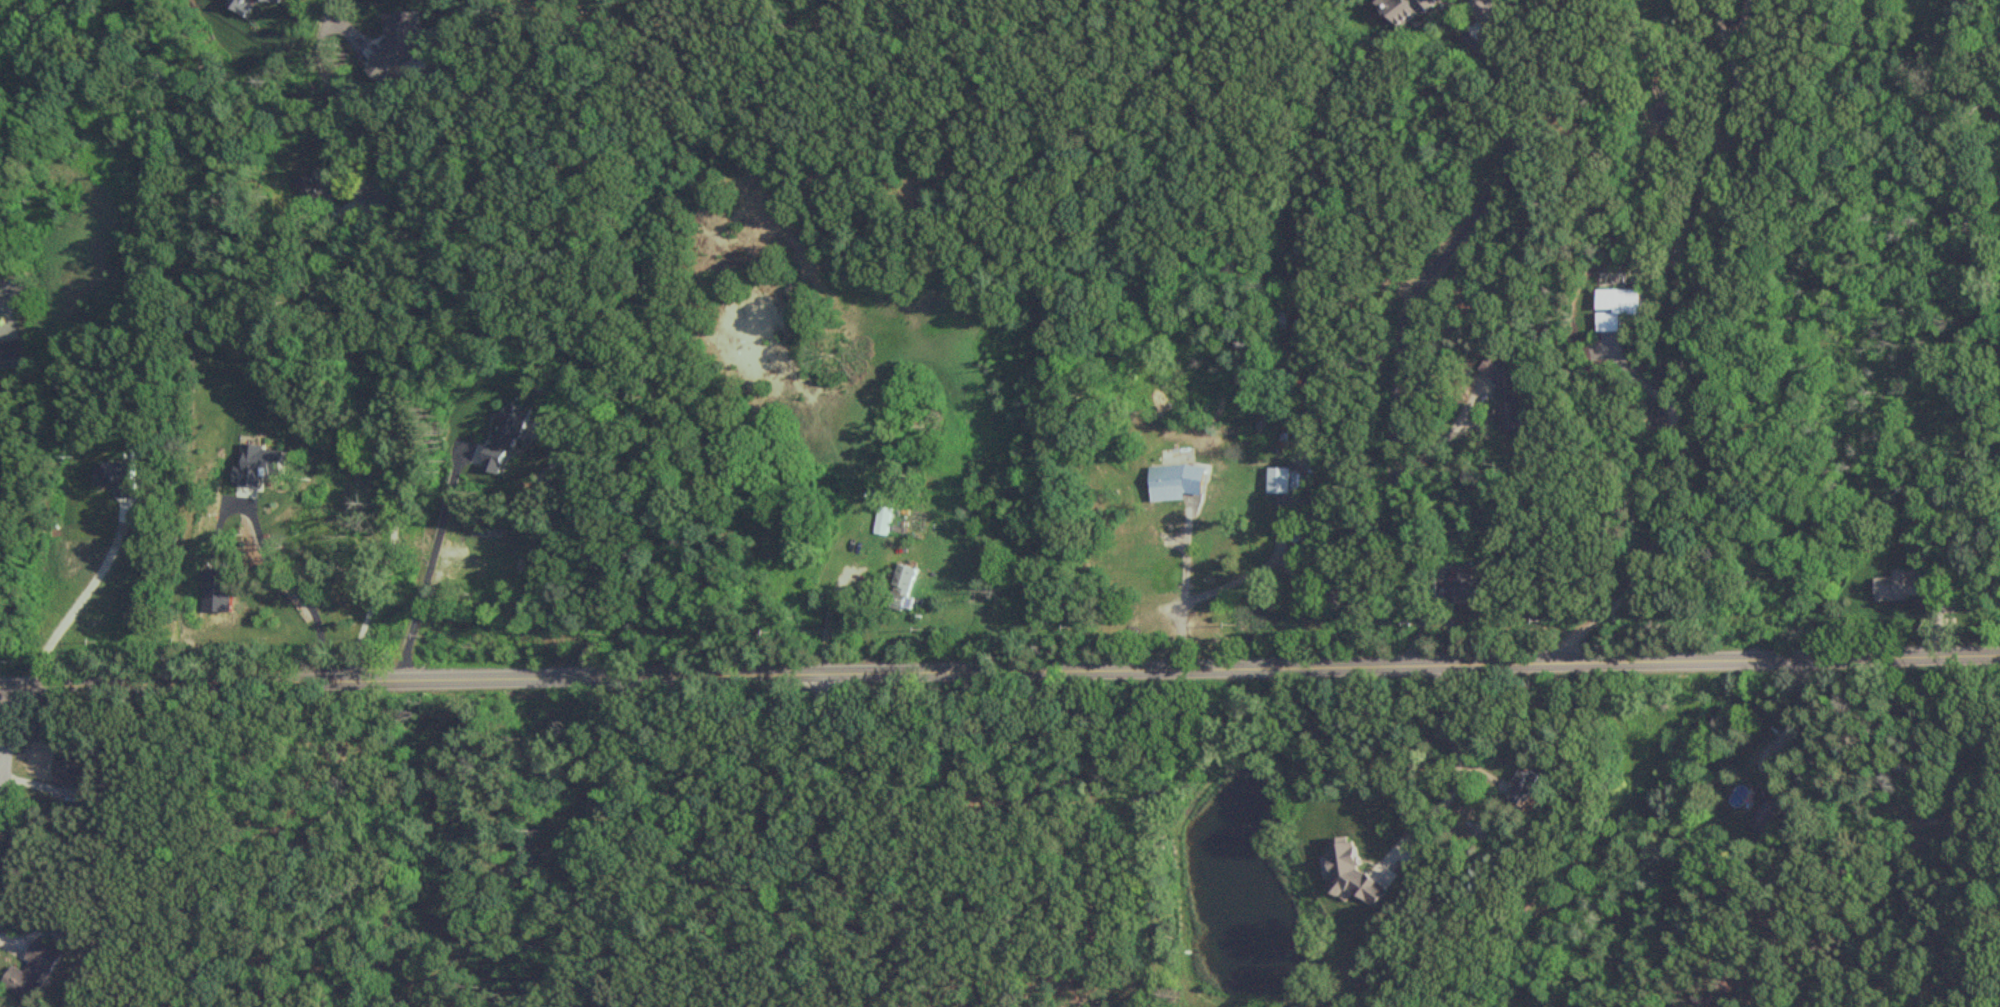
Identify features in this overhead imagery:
building: (1402, 10)
road: (339, 14)
road: (20, 18)
road: (1722, 34)
road: (40, 55)
building: (1669, 111)
building: (1613, 308)
road: (1401, 321)
road: (1688, 347)
building: (7, 355)
building: (1505, 388)
road: (388, 438)
road: (1434, 442)
building: (1275, 481)
building: (1170, 482)
building: (882, 521)
road: (428, 564)
road: (1250, 572)
road: (1183, 583)
building: (905, 587)
building: (1904, 589)
road: (295, 591)
building: (1468, 591)
road: (77, 600)
road: (1000, 672)
road: (1789, 719)
road: (2, 720)
road: (1457, 767)
building: (69, 771)
building: (1520, 787)
building: (1767, 813)
road: (894, 832)
building: (1346, 873)
building: (33, 971)

